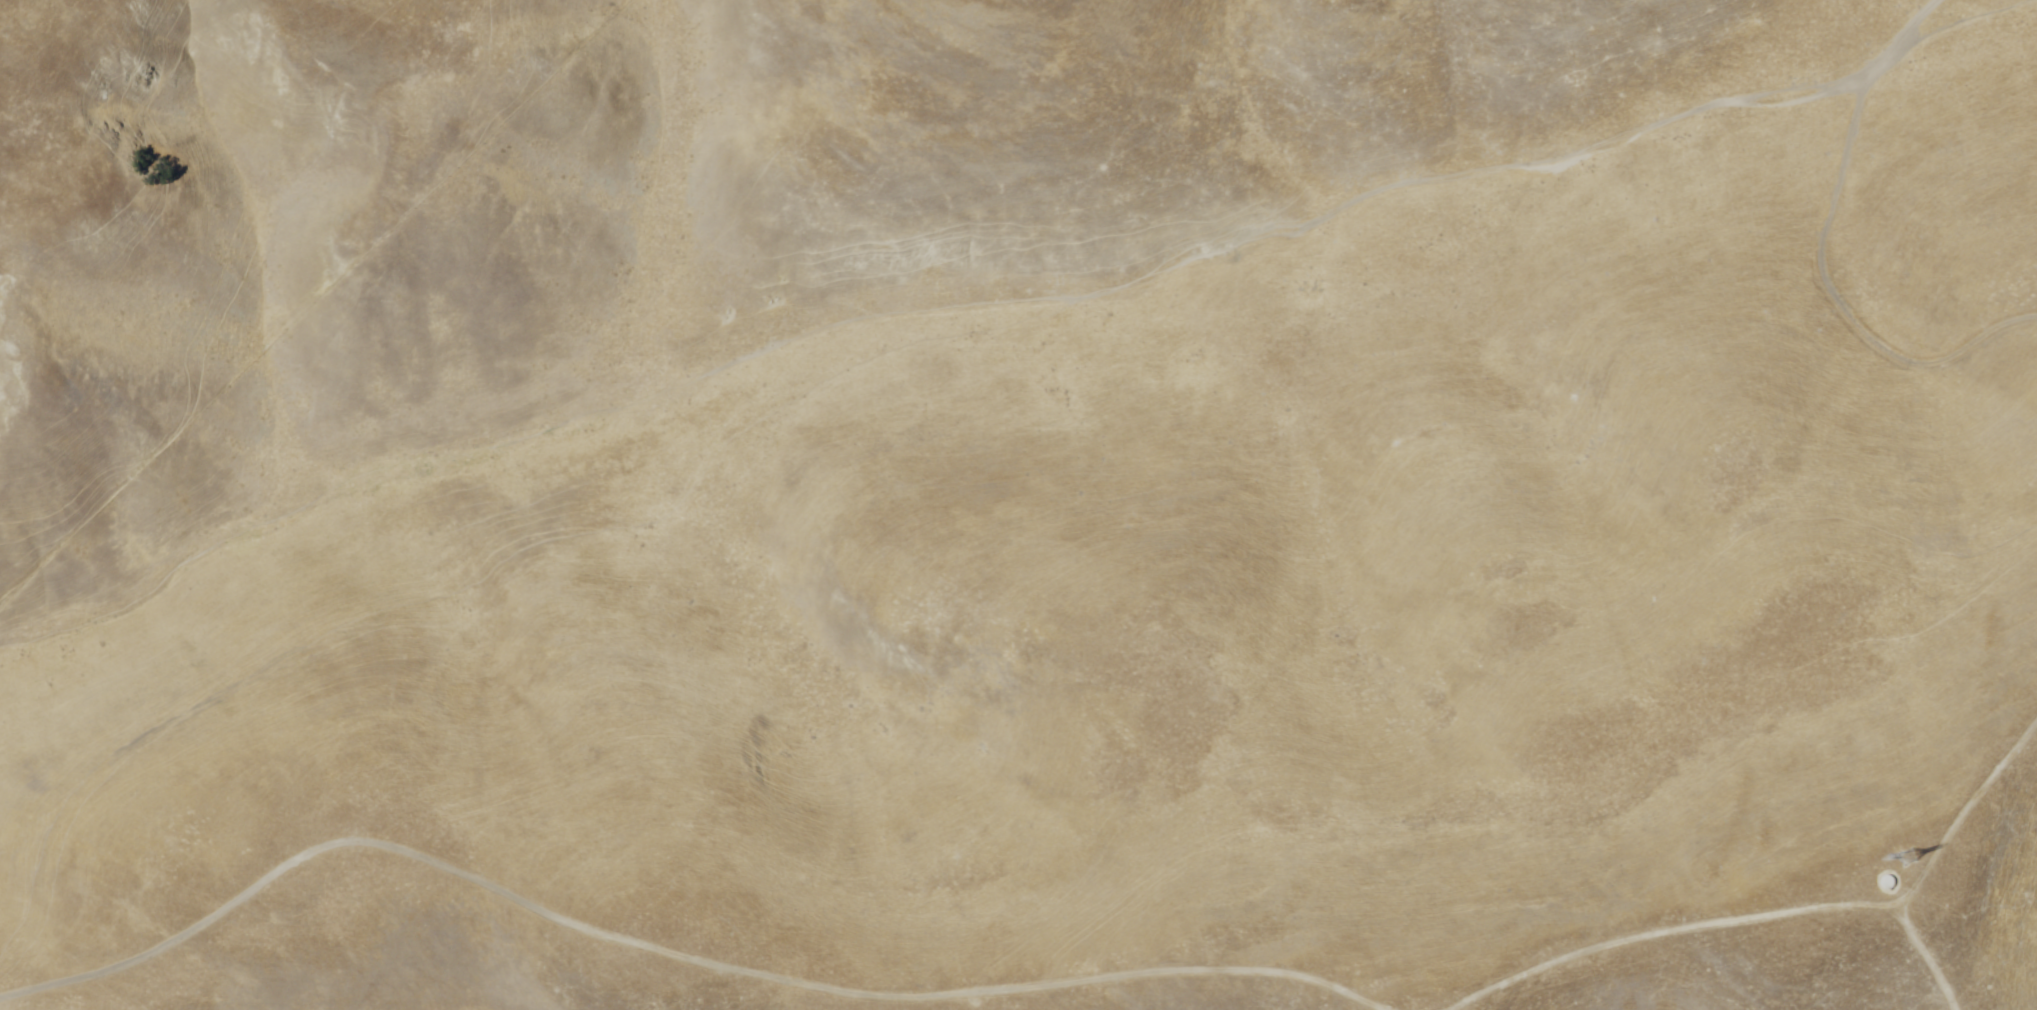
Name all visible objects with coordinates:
road: (1810, 258)
power tower: (1909, 858)
building: (1887, 883)

